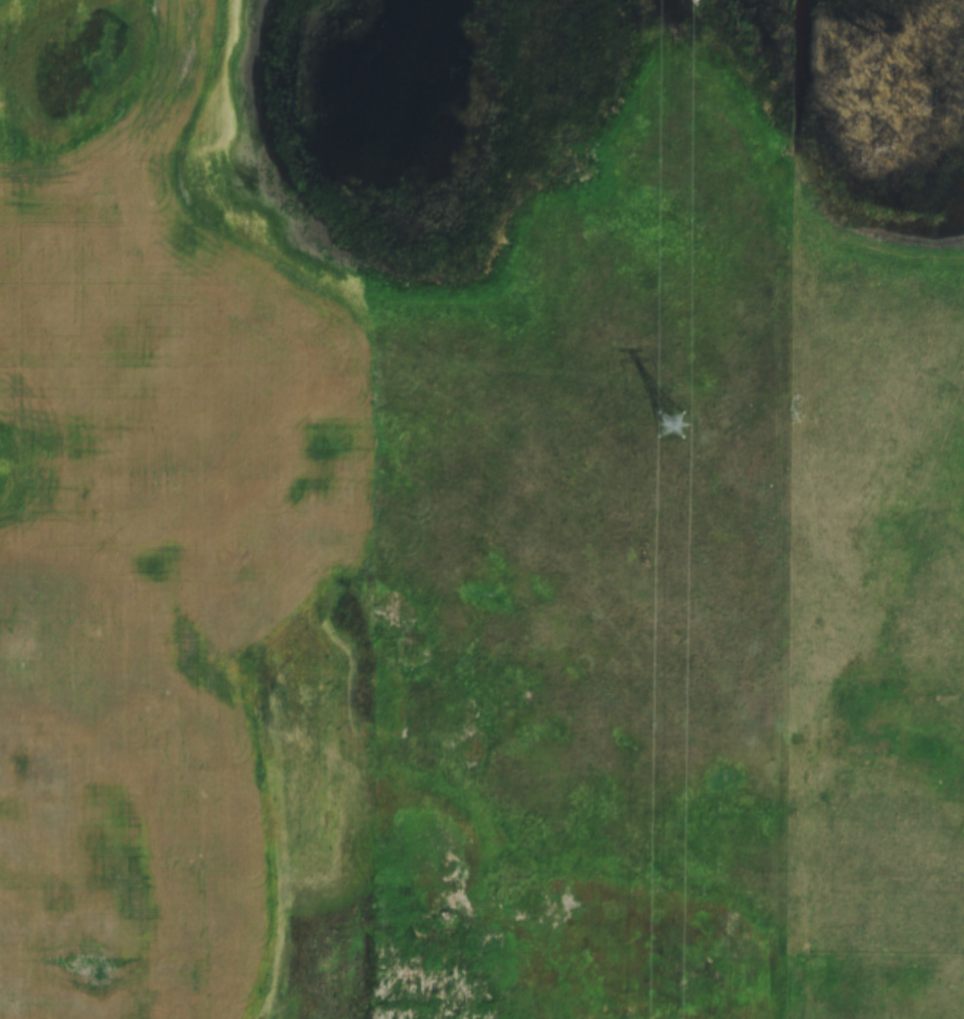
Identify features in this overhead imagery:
power tower: (671, 430)

